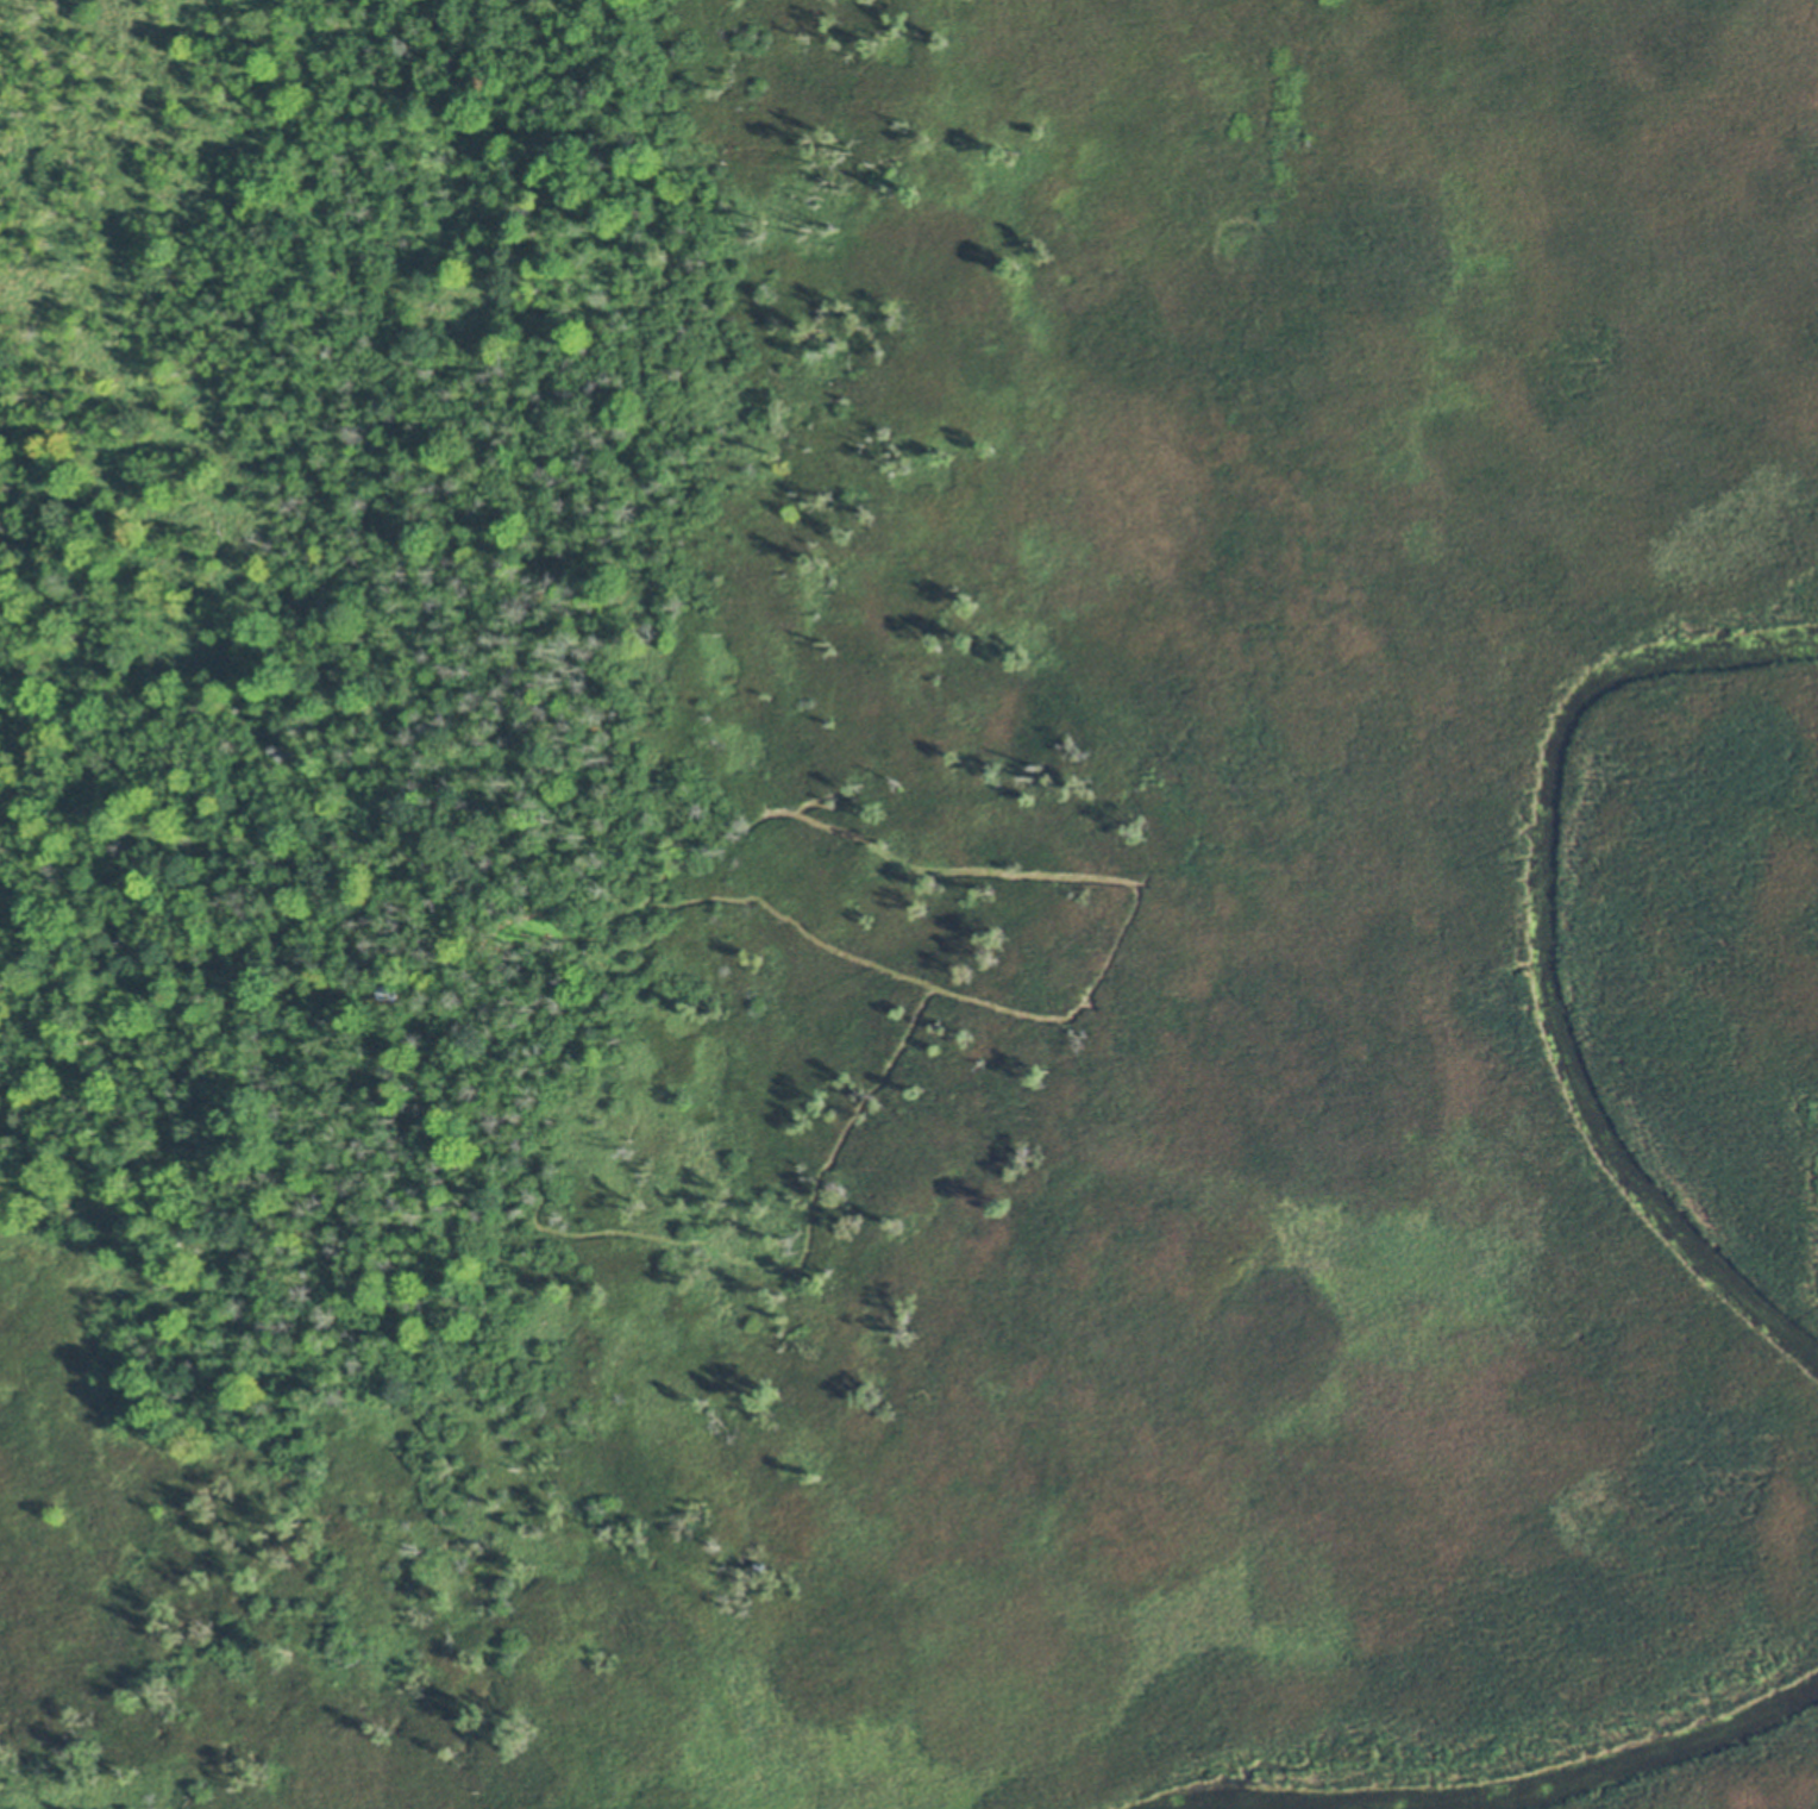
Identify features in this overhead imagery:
river: (1540, 949)
building: (389, 991)
building: (769, 1565)
river: (1502, 1795)

